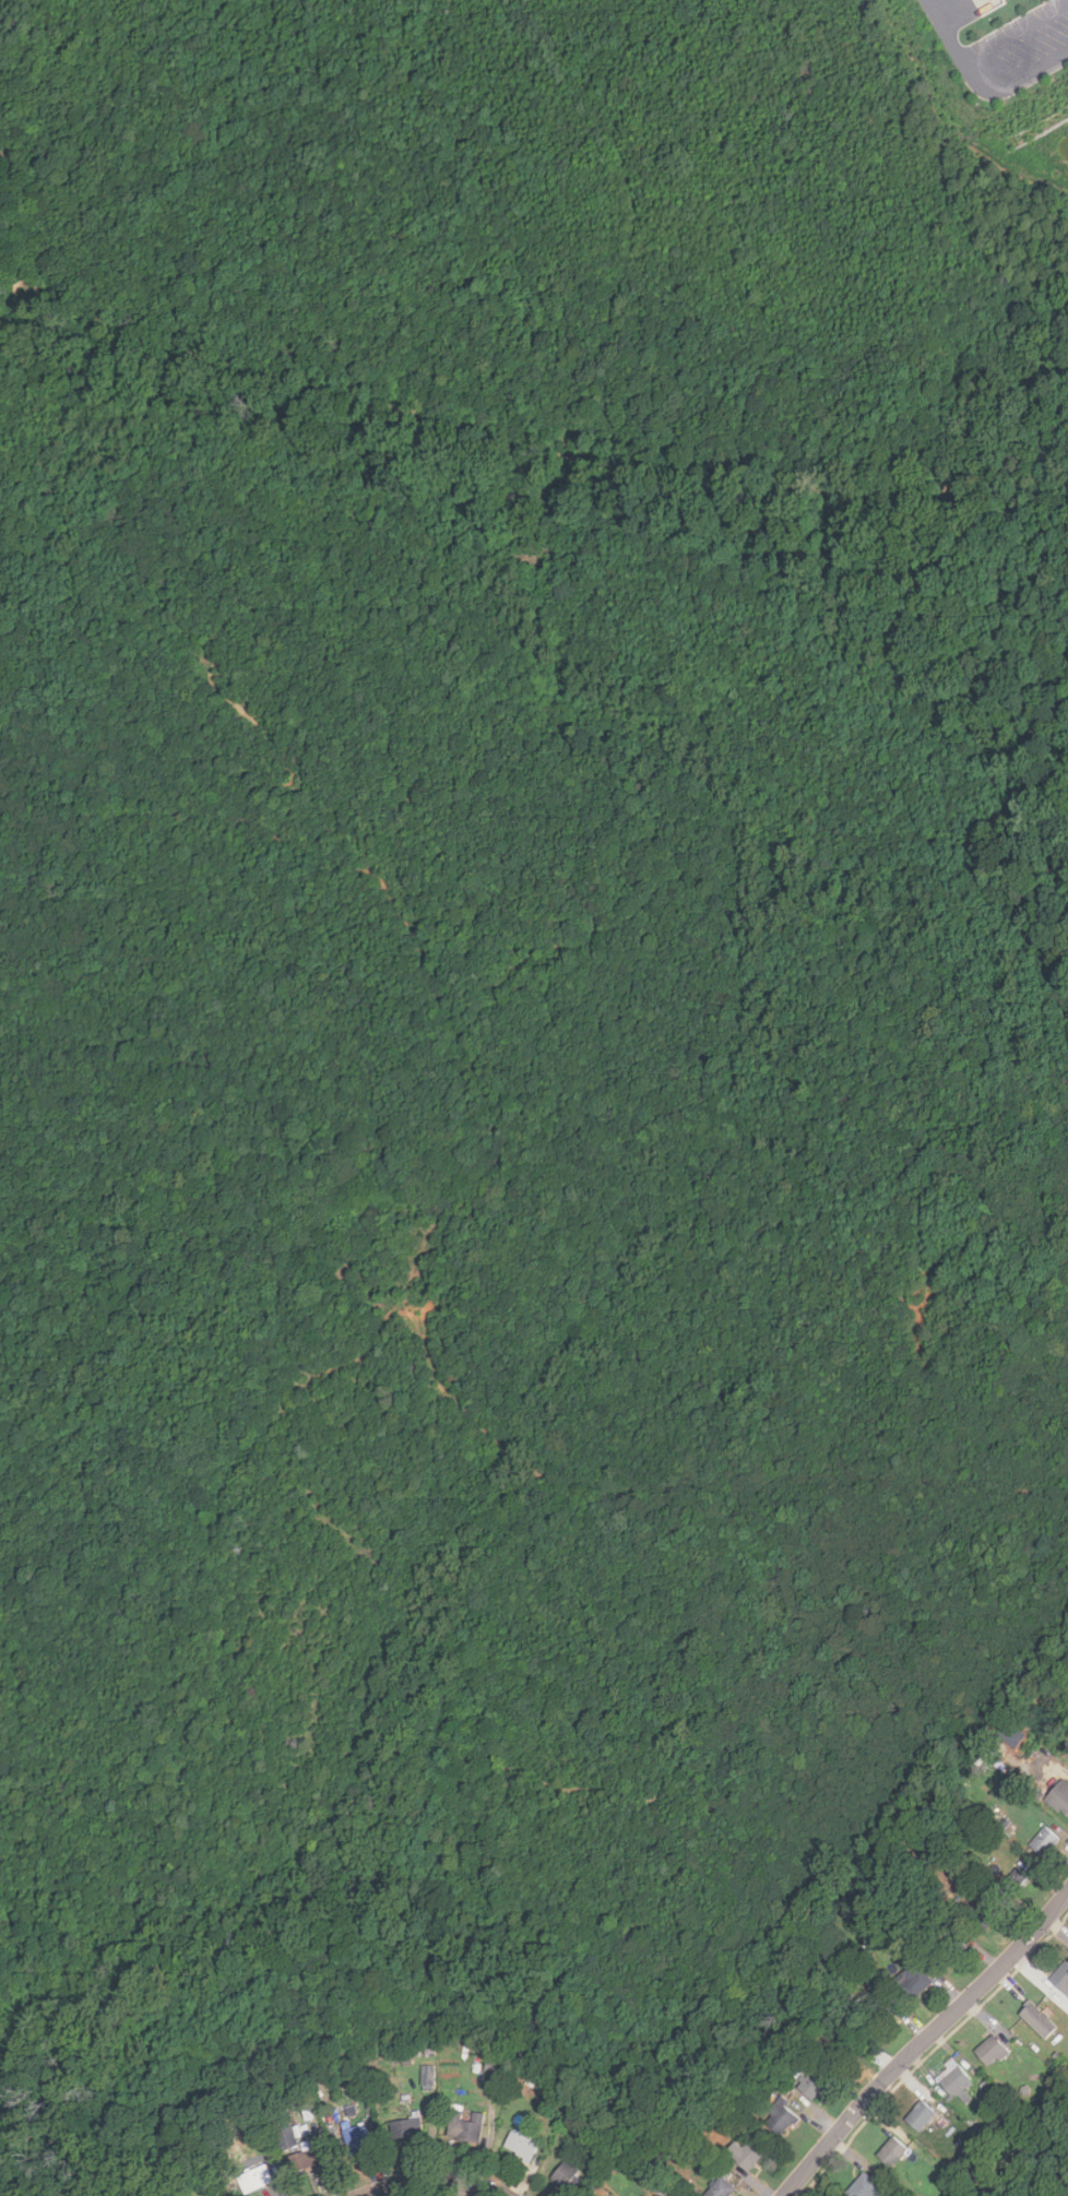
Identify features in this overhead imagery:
building: (1060, 1796)
building: (1045, 1841)
building: (1013, 1884)
building: (985, 1914)
building: (951, 1948)
building: (1061, 1978)
building: (913, 1981)
building: (880, 2014)
building: (1039, 2020)
road: (923, 2041)
building: (846, 2047)
building: (990, 2050)
building: (495, 2069)
building: (429, 2075)
building: (953, 2077)
building: (814, 2082)
building: (921, 2114)
building: (780, 2116)
building: (465, 2125)
building: (407, 2128)
building: (285, 2134)
building: (358, 2138)
building: (520, 2147)
building: (892, 2151)
building: (748, 2153)
building: (304, 2160)
building: (256, 2179)
building: (569, 2179)
road: (438, 2181)
building: (866, 2186)
building: (720, 2188)

